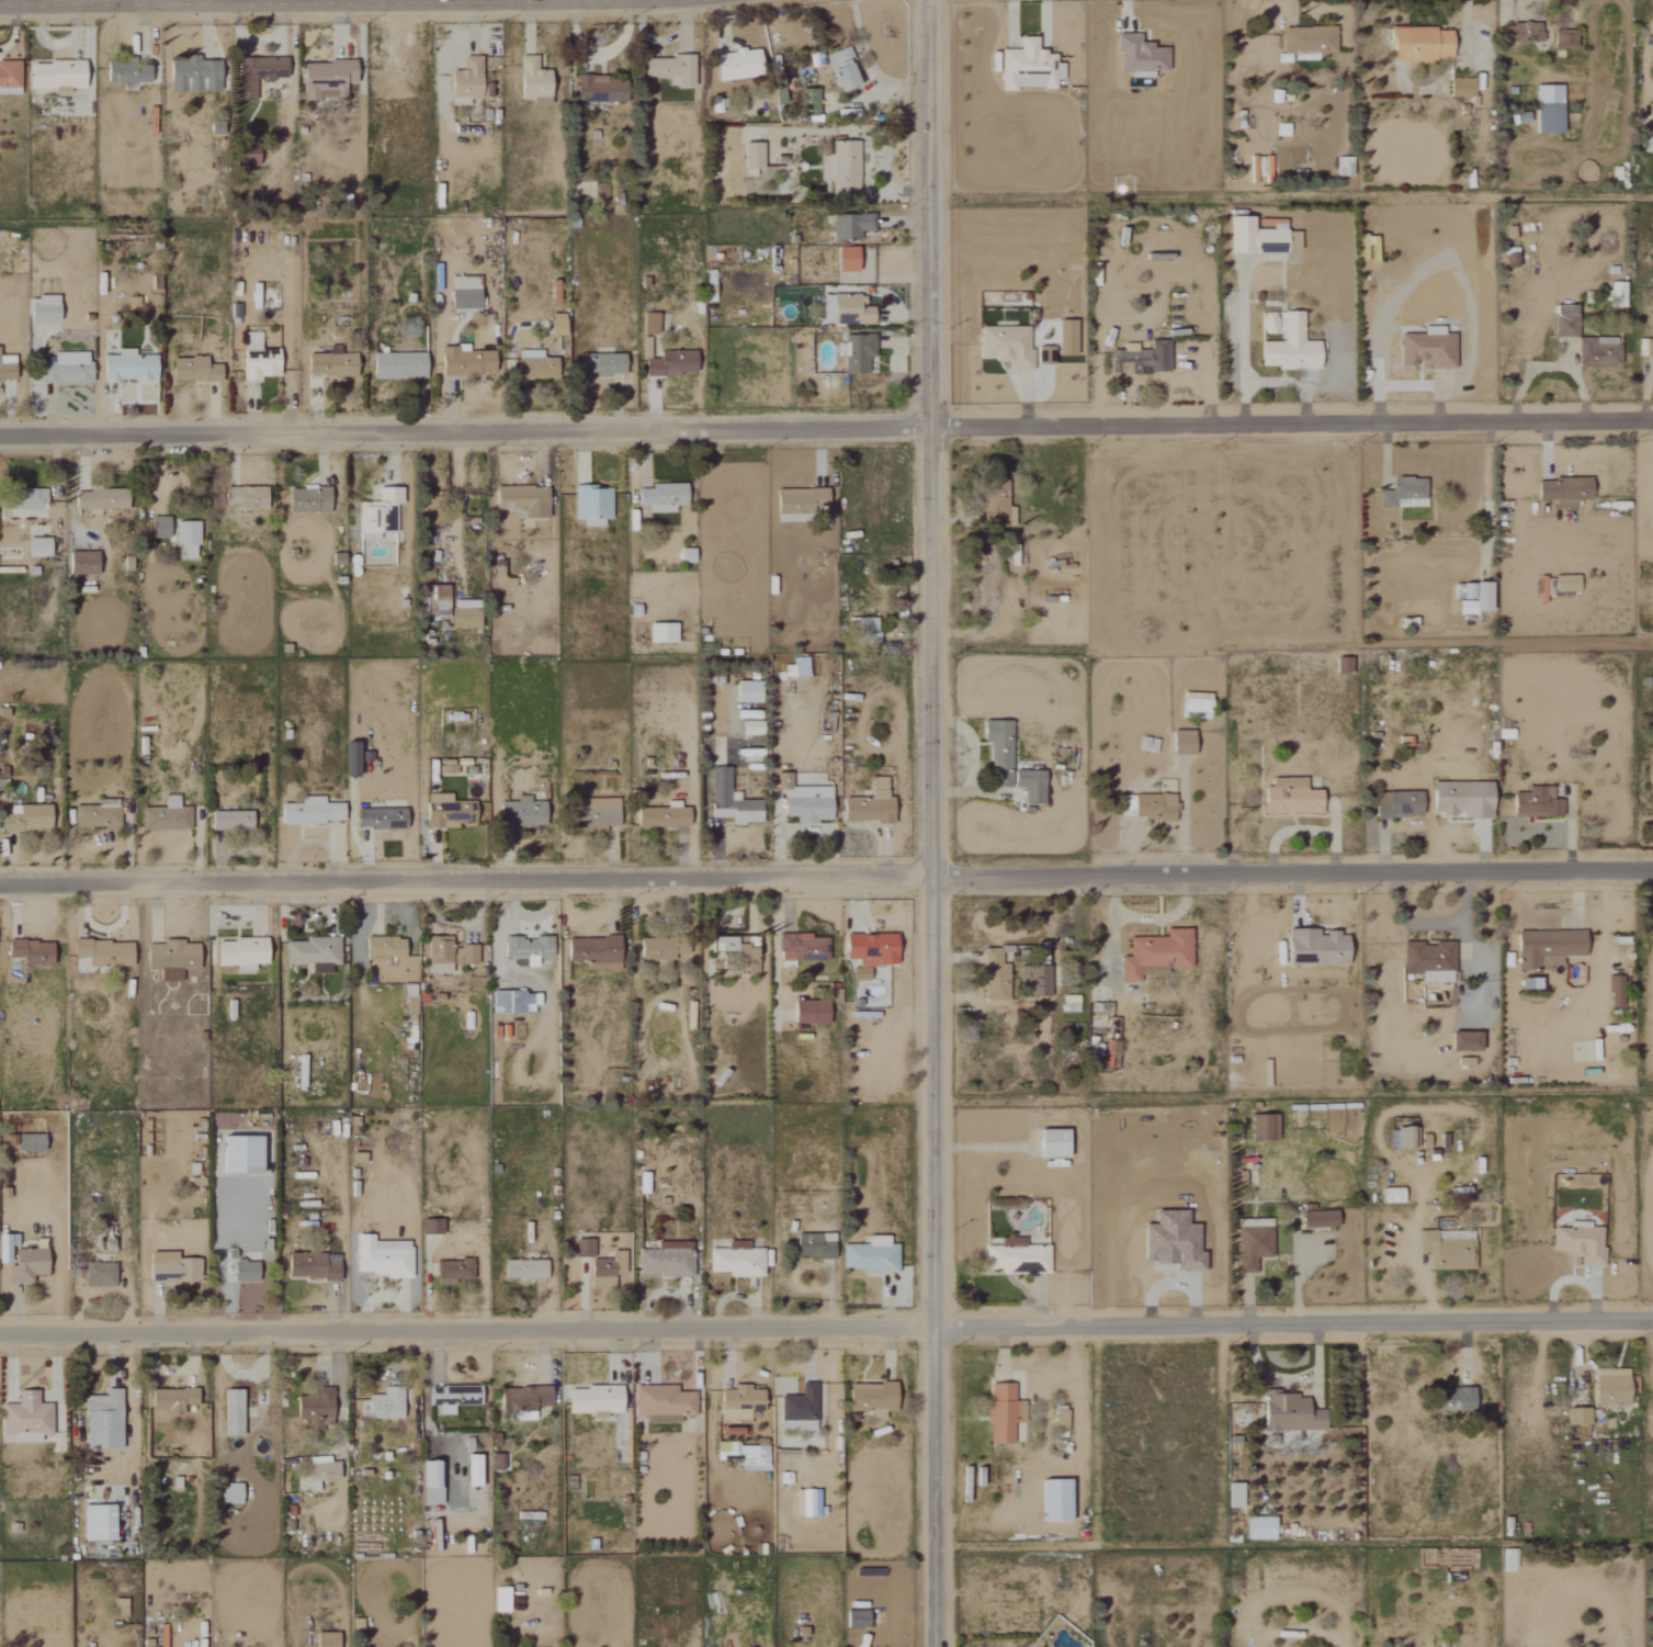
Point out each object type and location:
road: (534, 0)
road: (348, 1)
building: (1521, 33)
building: (1306, 40)
building: (1562, 40)
building: (1417, 44)
building: (1143, 57)
building: (743, 65)
building: (1030, 67)
building: (846, 69)
building: (262, 71)
building: (683, 71)
building: (131, 74)
building: (60, 76)
building: (197, 77)
building: (10, 79)
building: (330, 79)
building: (469, 81)
building: (536, 82)
building: (1458, 88)
building: (604, 89)
building: (1547, 109)
building: (1279, 129)
building: (1648, 142)
building: (756, 156)
building: (1343, 166)
building: (844, 170)
building: (853, 227)
building: (1257, 237)
building: (851, 260)
building: (467, 294)
building: (46, 308)
building: (854, 311)
building: (1561, 311)
building: (1267, 323)
building: (653, 325)
building: (559, 326)
building: (1563, 326)
building: (1064, 337)
building: (1005, 346)
building: (1287, 346)
building: (1648, 347)
building: (647, 348)
building: (1425, 348)
building: (1596, 351)
building: (860, 352)
building: (1140, 358)
building: (262, 359)
building: (469, 362)
building: (605, 364)
building: (673, 364)
building: (335, 365)
building: (537, 365)
building: (131, 366)
building: (401, 366)
building: (68, 368)
building: (8, 369)
building: (197, 371)
road: (826, 425)
building: (1562, 490)
building: (1401, 494)
building: (666, 497)
building: (250, 498)
building: (104, 499)
building: (803, 500)
building: (527, 501)
building: (312, 503)
building: (595, 504)
building: (996, 511)
building: (381, 512)
building: (162, 528)
building: (189, 540)
building: (41, 549)
building: (87, 564)
building: (503, 577)
building: (1564, 584)
building: (1472, 598)
building: (440, 602)
building: (467, 614)
building: (864, 630)
building: (665, 633)
building: (1339, 666)
building: (744, 691)
building: (1191, 704)
building: (1180, 743)
building: (354, 759)
building: (1008, 764)
building: (1288, 797)
building: (1460, 799)
building: (727, 800)
building: (805, 803)
building: (867, 803)
building: (1533, 803)
building: (1395, 805)
building: (1151, 808)
building: (314, 812)
building: (451, 812)
building: (525, 812)
building: (598, 814)
building: (98, 815)
building: (167, 816)
building: (660, 817)
building: (32, 819)
building: (384, 819)
building: (233, 820)
road: (932, 823)
road: (775, 838)
road: (826, 872)
building: (387, 948)
building: (1313, 948)
building: (1544, 948)
building: (656, 949)
building: (731, 949)
building: (802, 949)
building: (869, 949)
building: (530, 950)
building: (34, 951)
building: (595, 951)
building: (107, 952)
building: (245, 952)
building: (315, 954)
building: (442, 955)
building: (467, 955)
building: (1154, 955)
building: (174, 959)
building: (1427, 961)
building: (993, 975)
building: (1612, 988)
building: (514, 1003)
building: (1068, 1004)
building: (807, 1012)
building: (1463, 1041)
building: (1401, 1138)
building: (33, 1142)
building: (1048, 1143)
building: (245, 1154)
building: (1389, 1195)
building: (1316, 1219)
building: (433, 1227)
building: (813, 1245)
building: (1249, 1248)
building: (586, 1249)
building: (1446, 1251)
building: (384, 1256)
building: (868, 1256)
building: (1015, 1257)
building: (665, 1260)
building: (734, 1262)
building: (31, 1265)
building: (316, 1265)
building: (176, 1268)
building: (528, 1270)
building: (607, 1270)
building: (248, 1271)
building: (455, 1271)
building: (102, 1275)
road: (826, 1321)
building: (1608, 1387)
building: (871, 1397)
building: (455, 1398)
building: (527, 1399)
building: (1450, 1399)
building: (174, 1400)
building: (595, 1400)
building: (661, 1403)
building: (737, 1403)
building: (387, 1405)
building: (1652, 1405)
building: (317, 1409)
building: (797, 1409)
building: (236, 1413)
building: (1001, 1413)
building: (1288, 1413)
building: (1575, 1417)
building: (29, 1418)
building: (1058, 1420)
building: (106, 1421)
building: (498, 1463)
building: (322, 1471)
building: (476, 1471)
building: (433, 1482)
building: (233, 1493)
building: (1232, 1496)
building: (808, 1501)
building: (103, 1523)
building: (1257, 1528)
building: (438, 1536)
building: (503, 1600)
building: (122, 1607)
building: (854, 1617)
building: (329, 1639)
building: (1651, 1640)

